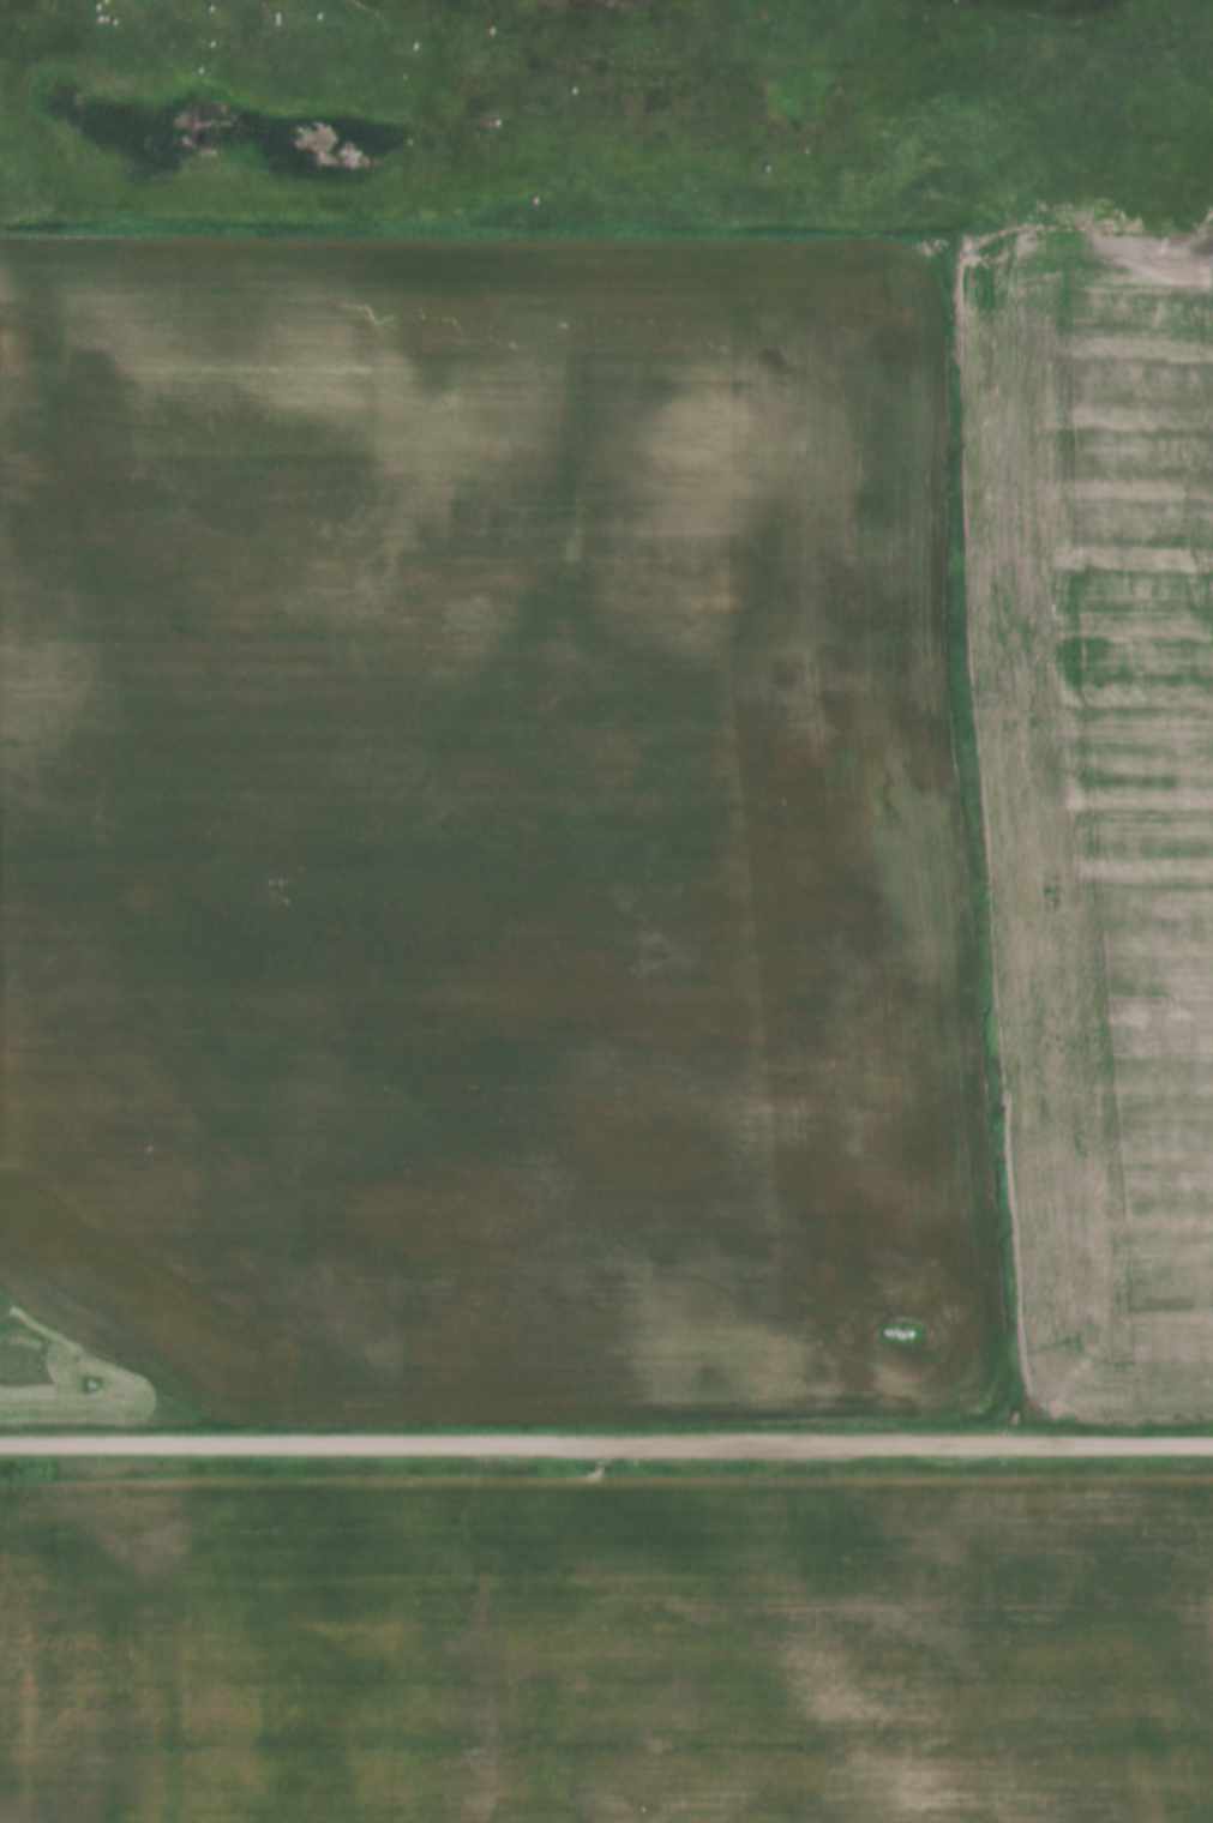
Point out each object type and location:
road: (606, 1439)

